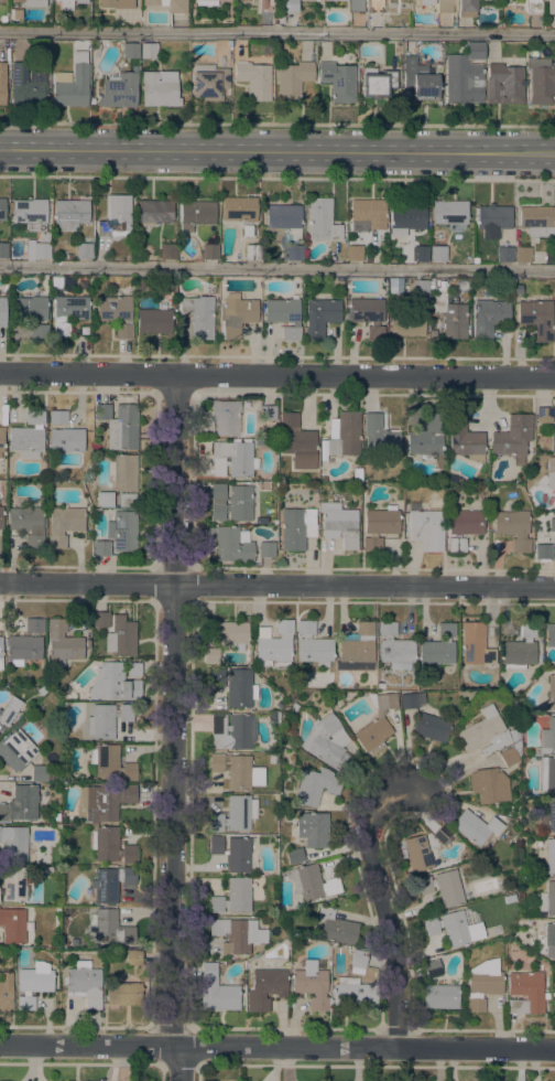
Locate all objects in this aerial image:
building: (2, 0)
building: (317, 0)
building: (335, 0)
building: (80, 1)
building: (31, 2)
building: (154, 2)
building: (206, 2)
building: (426, 2)
building: (115, 3)
building: (65, 4)
building: (265, 6)
building: (290, 6)
building: (355, 6)
building: (444, 6)
building: (177, 7)
building: (378, 7)
building: (467, 7)
building: (534, 7)
building: (551, 8)
building: (15, 15)
road: (277, 32)
building: (402, 46)
building: (398, 49)
building: (130, 51)
building: (149, 51)
building: (464, 75)
building: (253, 81)
building: (293, 81)
building: (338, 81)
building: (2, 82)
building: (208, 82)
building: (72, 83)
building: (378, 83)
building: (421, 84)
building: (503, 84)
building: (26, 85)
building: (541, 85)
building: (159, 88)
building: (118, 90)
road: (277, 124)
road: (277, 150)
road: (277, 178)
building: (240, 208)
building: (2, 210)
building: (154, 212)
building: (369, 212)
building: (449, 213)
building: (30, 214)
building: (70, 214)
building: (195, 214)
building: (283, 216)
building: (116, 217)
building: (407, 217)
building: (492, 220)
building: (322, 221)
building: (537, 221)
building: (247, 231)
building: (43, 236)
building: (3, 249)
building: (36, 250)
building: (167, 250)
building: (84, 251)
building: (209, 251)
building: (252, 253)
building: (294, 253)
building: (353, 253)
building: (420, 254)
building: (438, 254)
building: (504, 255)
building: (522, 255)
building: (549, 258)
building: (368, 259)
building: (475, 260)
road: (277, 268)
building: (56, 283)
building: (338, 285)
building: (142, 286)
building: (421, 288)
building: (115, 309)
building: (2, 312)
building: (67, 313)
building: (32, 314)
building: (237, 314)
building: (490, 314)
building: (198, 315)
building: (284, 315)
building: (367, 315)
building: (449, 315)
building: (320, 317)
building: (537, 319)
building: (153, 321)
building: (406, 325)
building: (123, 331)
road: (89, 373)
road: (367, 376)
building: (266, 413)
building: (543, 415)
building: (225, 417)
building: (119, 426)
building: (64, 434)
building: (28, 436)
building: (344, 437)
building: (379, 437)
building: (464, 438)
building: (513, 438)
building: (1, 439)
building: (426, 439)
building: (553, 439)
building: (297, 441)
building: (233, 459)
building: (551, 473)
building: (124, 479)
building: (323, 479)
building: (104, 500)
building: (231, 502)
building: (1, 517)
building: (535, 517)
building: (255, 520)
building: (339, 524)
building: (28, 525)
building: (63, 525)
building: (552, 525)
building: (296, 527)
building: (379, 527)
building: (425, 528)
building: (464, 528)
building: (513, 528)
building: (122, 531)
building: (536, 534)
building: (231, 546)
building: (101, 548)
building: (266, 550)
building: (542, 552)
road: (277, 586)
building: (100, 620)
building: (230, 633)
building: (549, 635)
building: (121, 638)
building: (62, 643)
building: (24, 644)
building: (358, 644)
building: (313, 645)
building: (476, 645)
building: (275, 646)
building: (438, 646)
building: (1, 649)
building: (395, 649)
building: (519, 649)
building: (211, 655)
building: (116, 681)
building: (233, 686)
building: (552, 692)
building: (412, 700)
building: (464, 700)
building: (9, 710)
building: (274, 715)
building: (107, 720)
building: (377, 724)
road: (175, 727)
building: (432, 728)
building: (232, 732)
building: (483, 732)
building: (513, 734)
building: (547, 737)
building: (325, 740)
building: (15, 750)
building: (510, 754)
building: (111, 763)
building: (233, 770)
building: (42, 773)
building: (547, 774)
building: (489, 785)
building: (315, 786)
building: (105, 802)
building: (20, 804)
building: (240, 812)
building: (551, 815)
building: (56, 817)
building: (214, 823)
building: (476, 827)
building: (313, 830)
building: (438, 831)
building: (14, 844)
building: (110, 846)
building: (232, 853)
building: (417, 854)
building: (294, 856)
building: (551, 856)
building: (47, 869)
building: (312, 882)
building: (109, 884)
building: (13, 885)
building: (443, 887)
building: (233, 897)
building: (509, 899)
road: (385, 900)
building: (547, 900)
building: (14, 927)
building: (337, 928)
building: (110, 929)
building: (453, 929)
building: (237, 934)
building: (546, 939)
building: (134, 957)
building: (358, 959)
building: (433, 968)
building: (35, 984)
building: (84, 984)
building: (311, 985)
building: (482, 985)
building: (265, 988)
building: (6, 991)
building: (217, 992)
building: (123, 993)
building: (525, 993)
building: (353, 994)
building: (440, 996)
building: (554, 999)
road: (277, 1047)

